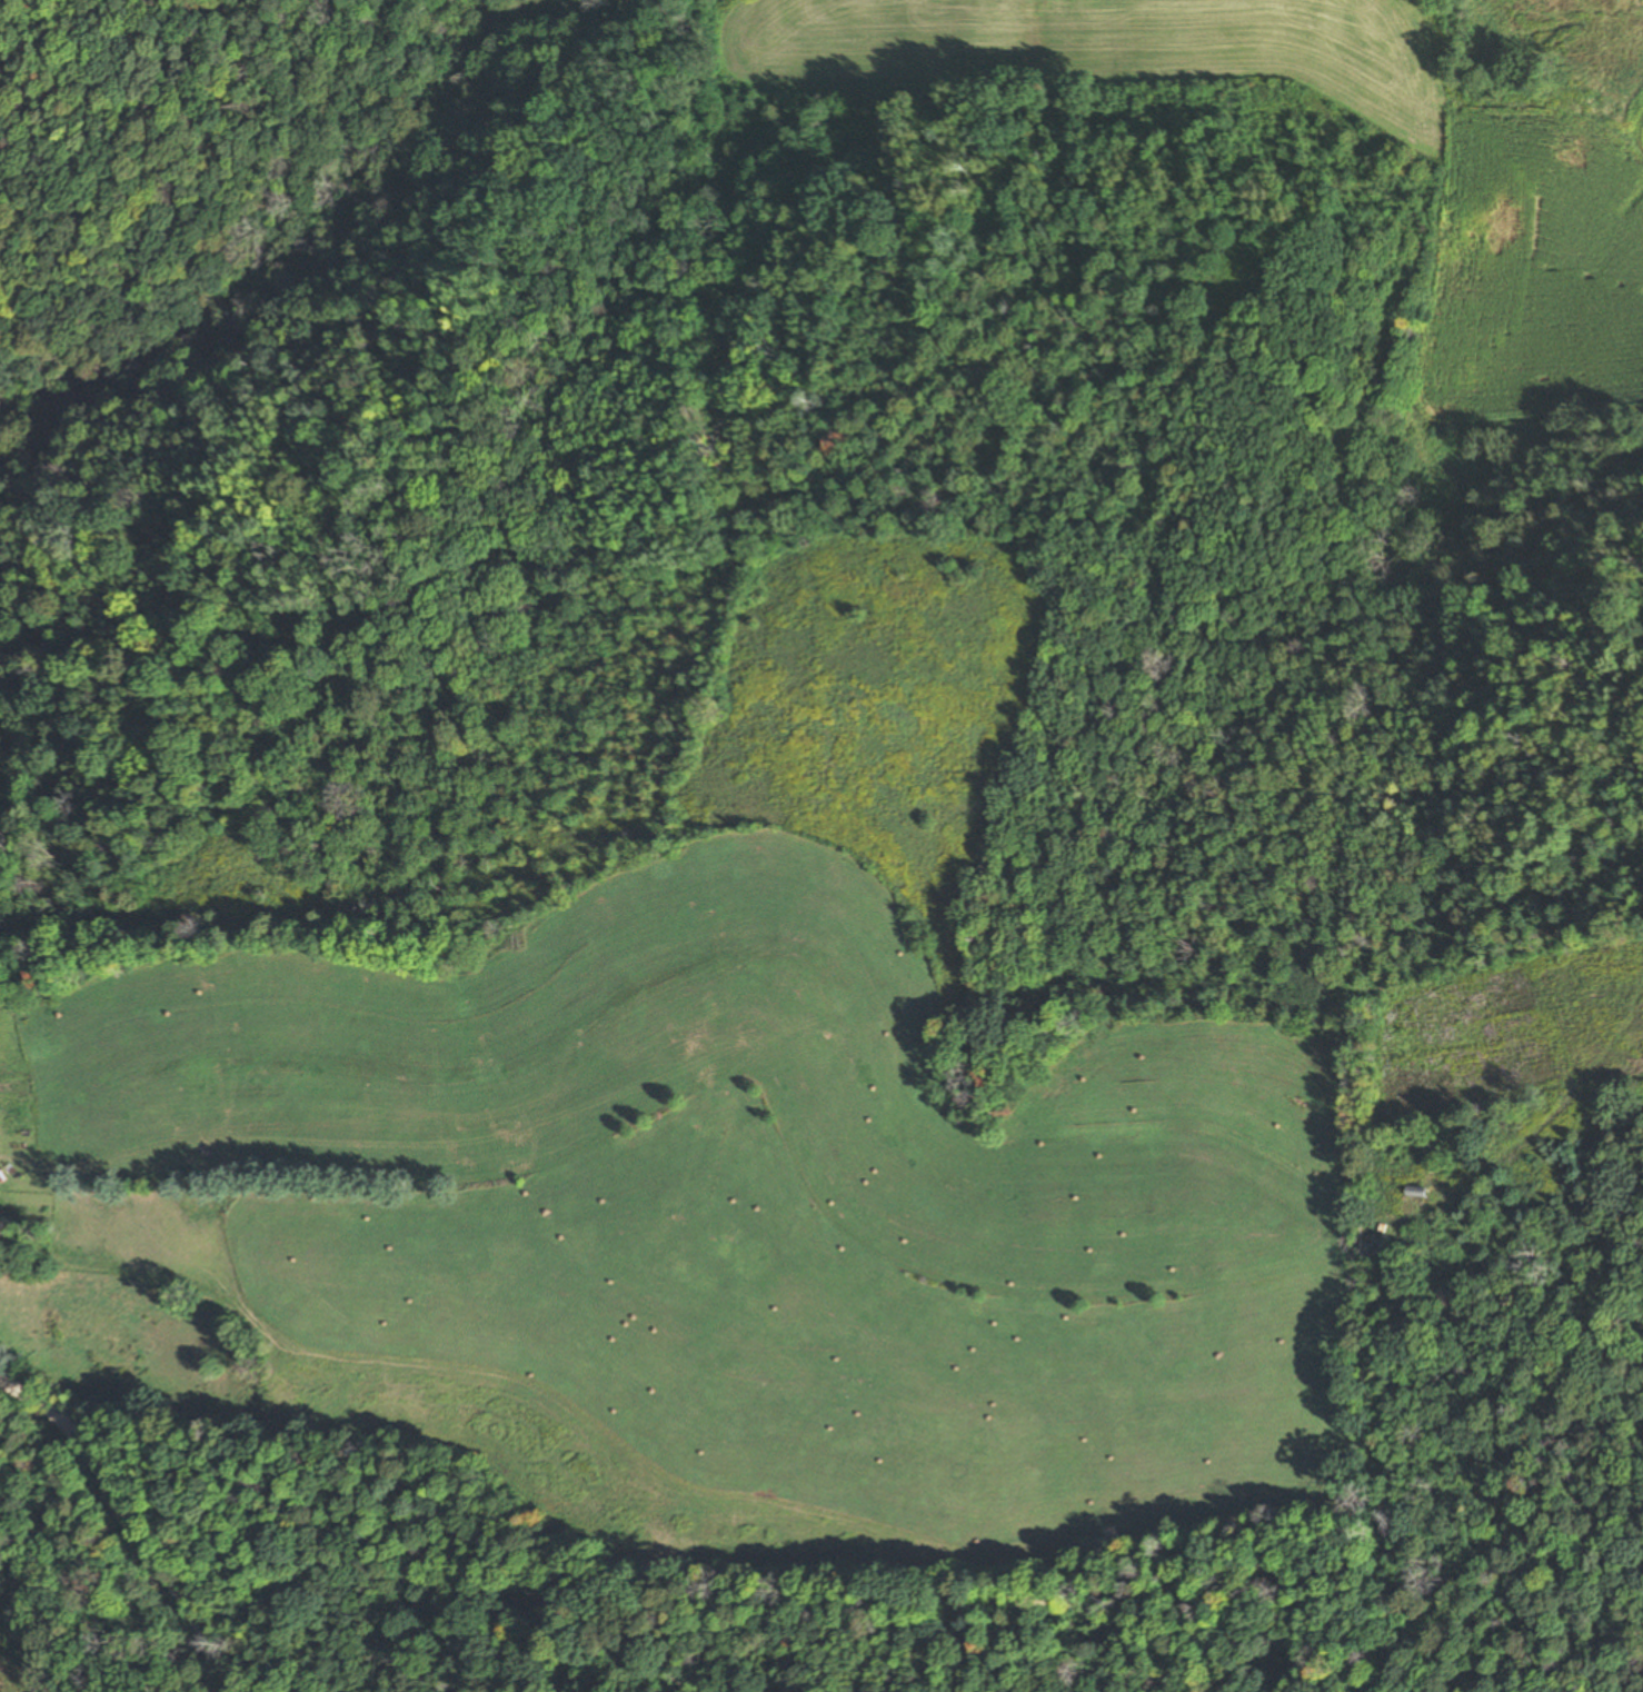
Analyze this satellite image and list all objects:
building: (1420, 1193)
road: (133, 1521)

